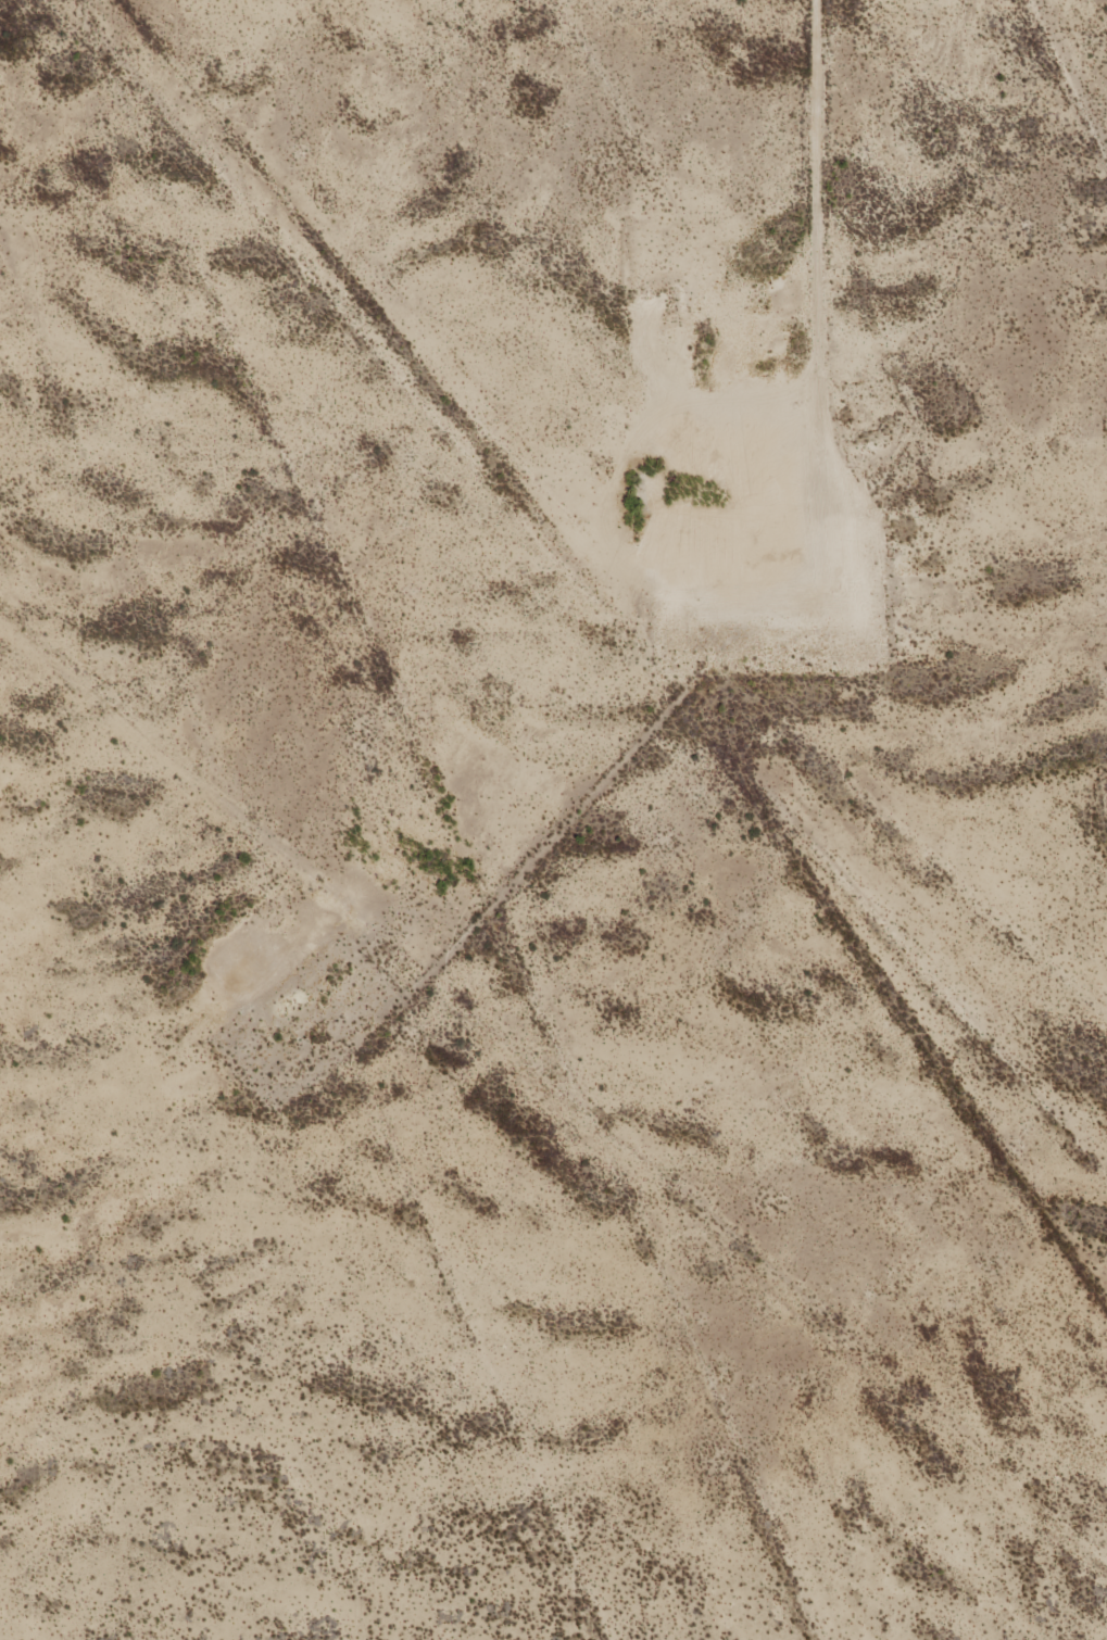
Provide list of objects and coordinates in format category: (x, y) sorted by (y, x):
road: (738, 691)

